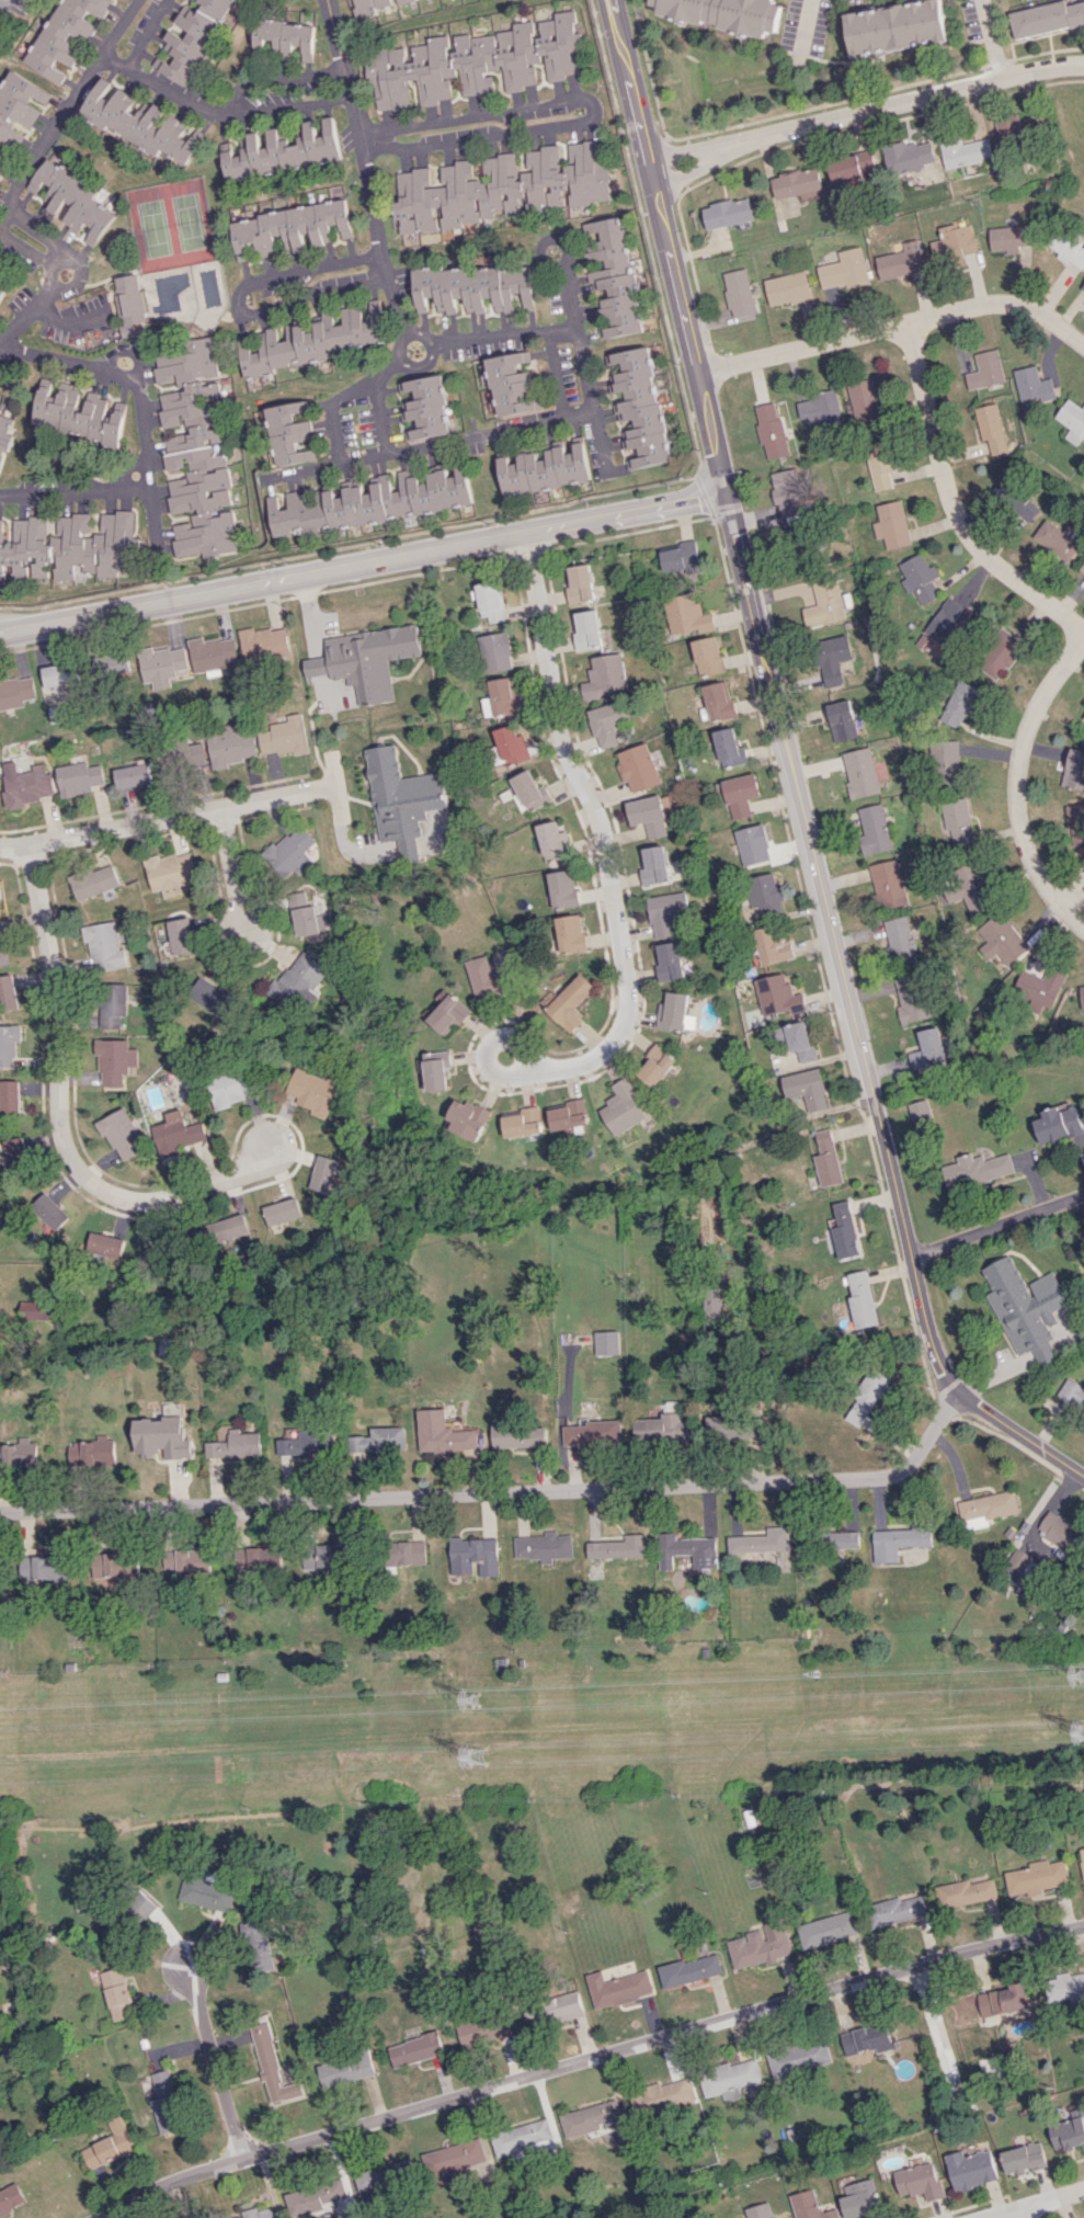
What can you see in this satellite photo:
building: (374, 7)
building: (723, 13)
building: (1046, 16)
road: (119, 25)
road: (803, 26)
building: (895, 27)
road: (147, 34)
building: (67, 35)
building: (192, 37)
building: (283, 37)
road: (989, 38)
building: (475, 61)
road: (893, 103)
building: (18, 105)
road: (217, 120)
building: (138, 122)
road: (475, 122)
building: (1015, 128)
road: (47, 137)
road: (674, 150)
building: (279, 151)
building: (963, 151)
building: (905, 156)
building: (2, 162)
road: (366, 168)
building: (852, 168)
road: (684, 173)
building: (796, 182)
building: (73, 198)
building: (727, 213)
park: (169, 224)
building: (290, 227)
building: (1011, 237)
road: (47, 238)
building: (955, 241)
building: (1069, 248)
building: (900, 261)
building: (843, 270)
building: (614, 276)
road: (57, 285)
building: (1083, 286)
building: (471, 287)
building: (787, 287)
building: (739, 292)
building: (2, 293)
road: (236, 302)
building: (130, 304)
road: (28, 311)
road: (575, 319)
road: (898, 322)
road: (502, 335)
building: (311, 339)
road: (398, 344)
road: (429, 346)
road: (135, 354)
road: (407, 365)
road: (107, 369)
building: (985, 369)
building: (509, 385)
building: (1032, 385)
road: (344, 401)
building: (864, 402)
building: (638, 407)
building: (0, 408)
building: (424, 408)
building: (820, 411)
building: (78, 412)
road: (380, 420)
building: (1072, 420)
building: (991, 428)
building: (771, 430)
building: (5, 432)
building: (289, 433)
road: (469, 436)
building: (195, 452)
building: (879, 465)
building: (544, 468)
road: (61, 488)
road: (140, 488)
building: (787, 491)
building: (1015, 499)
building: (369, 501)
road: (948, 503)
road: (150, 512)
building: (891, 524)
building: (1057, 538)
building: (69, 547)
road: (363, 556)
building: (680, 556)
building: (1082, 568)
building: (921, 578)
building: (579, 583)
building: (491, 601)
building: (825, 601)
building: (687, 615)
building: (948, 624)
building: (586, 628)
building: (264, 642)
building: (495, 651)
building: (213, 652)
building: (1001, 652)
building: (708, 656)
building: (833, 658)
building: (111, 664)
building: (163, 664)
building: (369, 671)
building: (60, 673)
building: (605, 675)
building: (15, 691)
building: (501, 697)
building: (720, 701)
building: (960, 704)
building: (1082, 717)
building: (843, 720)
building: (607, 723)
building: (284, 736)
building: (229, 746)
building: (509, 746)
building: (731, 748)
building: (182, 757)
building: (948, 761)
building: (639, 767)
road: (1015, 767)
building: (1074, 770)
building: (862, 772)
road: (797, 774)
building: (133, 775)
building: (79, 777)
building: (27, 785)
building: (397, 786)
building: (529, 792)
building: (741, 794)
road: (339, 800)
building: (648, 815)
road: (168, 817)
building: (959, 820)
building: (1077, 824)
building: (875, 829)
building: (550, 841)
building: (753, 844)
road: (604, 846)
building: (290, 851)
building: (653, 865)
building: (170, 872)
road: (233, 874)
building: (93, 880)
building: (888, 884)
building: (562, 888)
building: (968, 888)
building: (765, 894)
building: (0, 898)
road: (1077, 901)
building: (666, 911)
building: (303, 914)
road: (1074, 919)
building: (570, 933)
building: (181, 935)
building: (901, 939)
building: (1003, 940)
building: (2, 945)
building: (104, 945)
building: (772, 946)
building: (669, 960)
building: (488, 977)
building: (297, 979)
building: (1041, 985)
building: (8, 992)
building: (777, 994)
building: (1082, 996)
building: (912, 997)
building: (214, 1000)
building: (571, 1002)
building: (113, 1004)
building: (672, 1011)
building: (449, 1013)
building: (800, 1040)
building: (9, 1044)
building: (933, 1048)
building: (115, 1061)
building: (654, 1065)
building: (436, 1070)
building: (232, 1087)
building: (807, 1088)
building: (315, 1090)
building: (10, 1097)
building: (621, 1107)
building: (922, 1113)
building: (568, 1114)
road: (65, 1115)
building: (468, 1118)
building: (522, 1122)
building: (1059, 1123)
building: (179, 1133)
building: (122, 1134)
building: (15, 1151)
building: (828, 1159)
building: (977, 1170)
building: (324, 1179)
building: (49, 1210)
building: (282, 1213)
road: (995, 1222)
building: (226, 1229)
building: (843, 1230)
building: (104, 1244)
building: (156, 1250)
building: (862, 1299)
building: (710, 1303)
building: (35, 1309)
building: (1028, 1309)
building: (606, 1342)
building: (1071, 1394)
building: (866, 1398)
building: (874, 1425)
building: (662, 1429)
building: (739, 1430)
building: (443, 1432)
building: (592, 1433)
building: (520, 1435)
building: (162, 1437)
building: (380, 1440)
building: (235, 1444)
building: (307, 1444)
building: (91, 1453)
building: (18, 1455)
road: (498, 1494)
building: (986, 1505)
building: (1058, 1531)
building: (843, 1539)
building: (762, 1540)
building: (899, 1540)
building: (543, 1546)
building: (618, 1547)
building: (686, 1550)
building: (406, 1551)
building: (472, 1555)
building: (322, 1556)
building: (263, 1558)
building: (163, 1561)
building: (193, 1561)
building: (44, 1567)
building: (114, 1569)
building: (1022, 1569)
power tower: (484, 1704)
power tower: (486, 1761)
building: (1082, 1858)
building: (1035, 1877)
building: (965, 1892)
building: (142, 1906)
building: (895, 1910)
building: (826, 1929)
building: (259, 1945)
building: (758, 1945)
building: (691, 1970)
building: (619, 1987)
building: (1065, 1987)
building: (117, 1993)
building: (1003, 2001)
building: (484, 2028)
road: (937, 2034)
building: (866, 2038)
building: (417, 2049)
road: (590, 2056)
road: (213, 2057)
building: (799, 2057)
building: (273, 2065)
building: (346, 2069)
building: (731, 2078)
building: (661, 2096)
building: (167, 2102)
building: (592, 2116)
building: (1066, 2134)
building: (520, 2137)
building: (107, 2146)
building: (454, 2157)
building: (1023, 2158)
building: (969, 2169)
building: (917, 2181)
building: (353, 2186)
building: (11, 2198)
building: (858, 2198)
road: (1037, 2204)
building: (809, 2206)
building: (760, 2210)
building: (258, 2213)
road: (1015, 2215)

